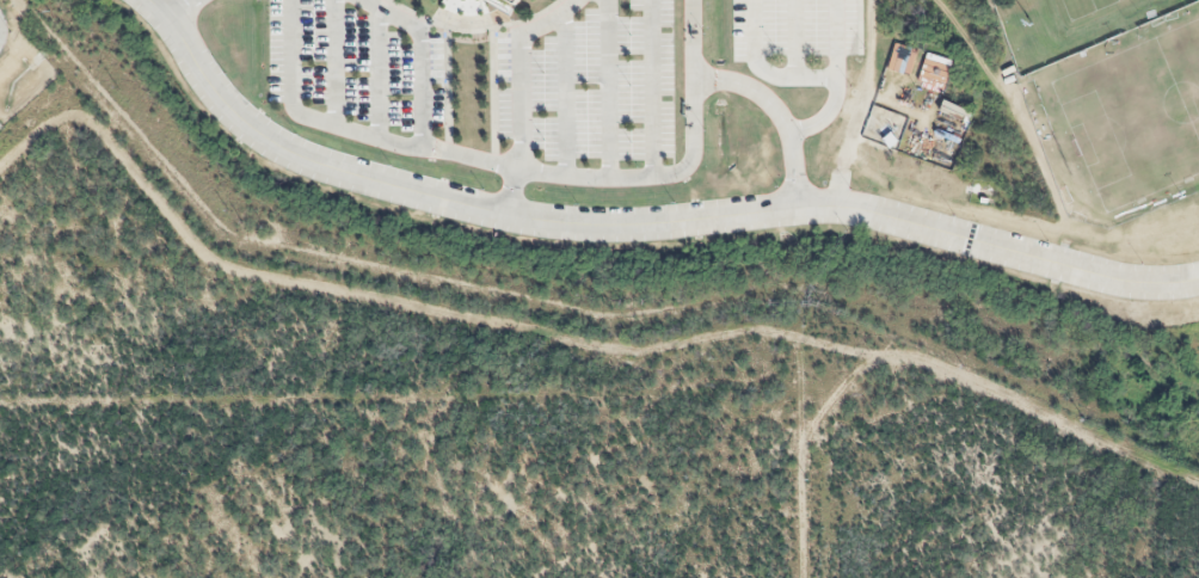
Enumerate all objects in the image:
building: (512, 1)
road: (178, 7)
park: (1088, 11)
road: (393, 17)
road: (548, 19)
parking lot: (794, 27)
road: (752, 30)
road: (693, 38)
road: (793, 38)
road: (835, 38)
road: (290, 50)
road: (333, 63)
parking lot: (356, 66)
road: (379, 73)
road: (791, 78)
parking lot: (592, 85)
road: (651, 88)
road: (608, 90)
road: (423, 92)
road: (564, 93)
road: (776, 116)
road: (823, 116)
park: (1137, 116)
road: (517, 125)
road: (307, 158)
road: (525, 172)
road: (868, 211)

